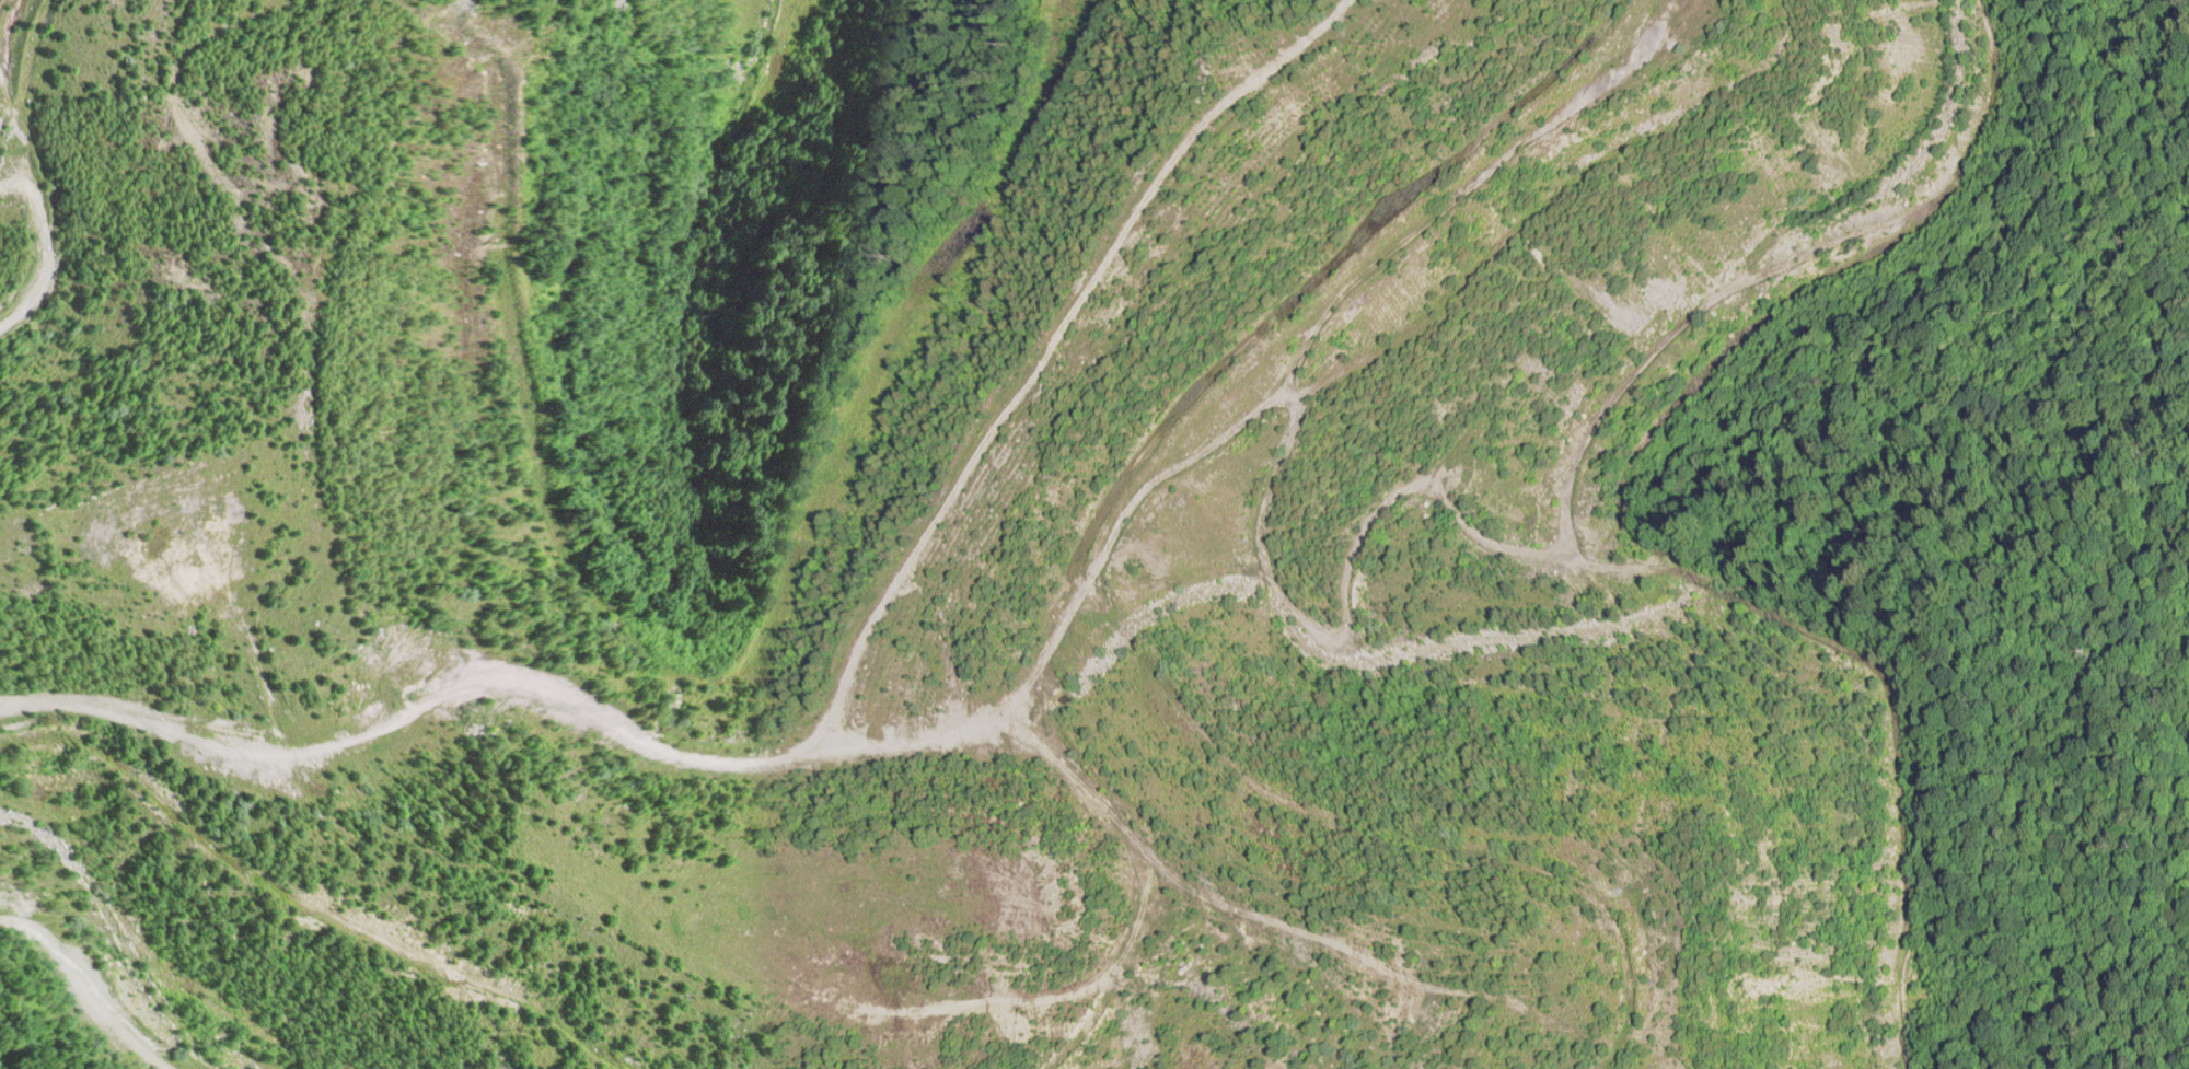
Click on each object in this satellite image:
quarry: (1094, 534)

